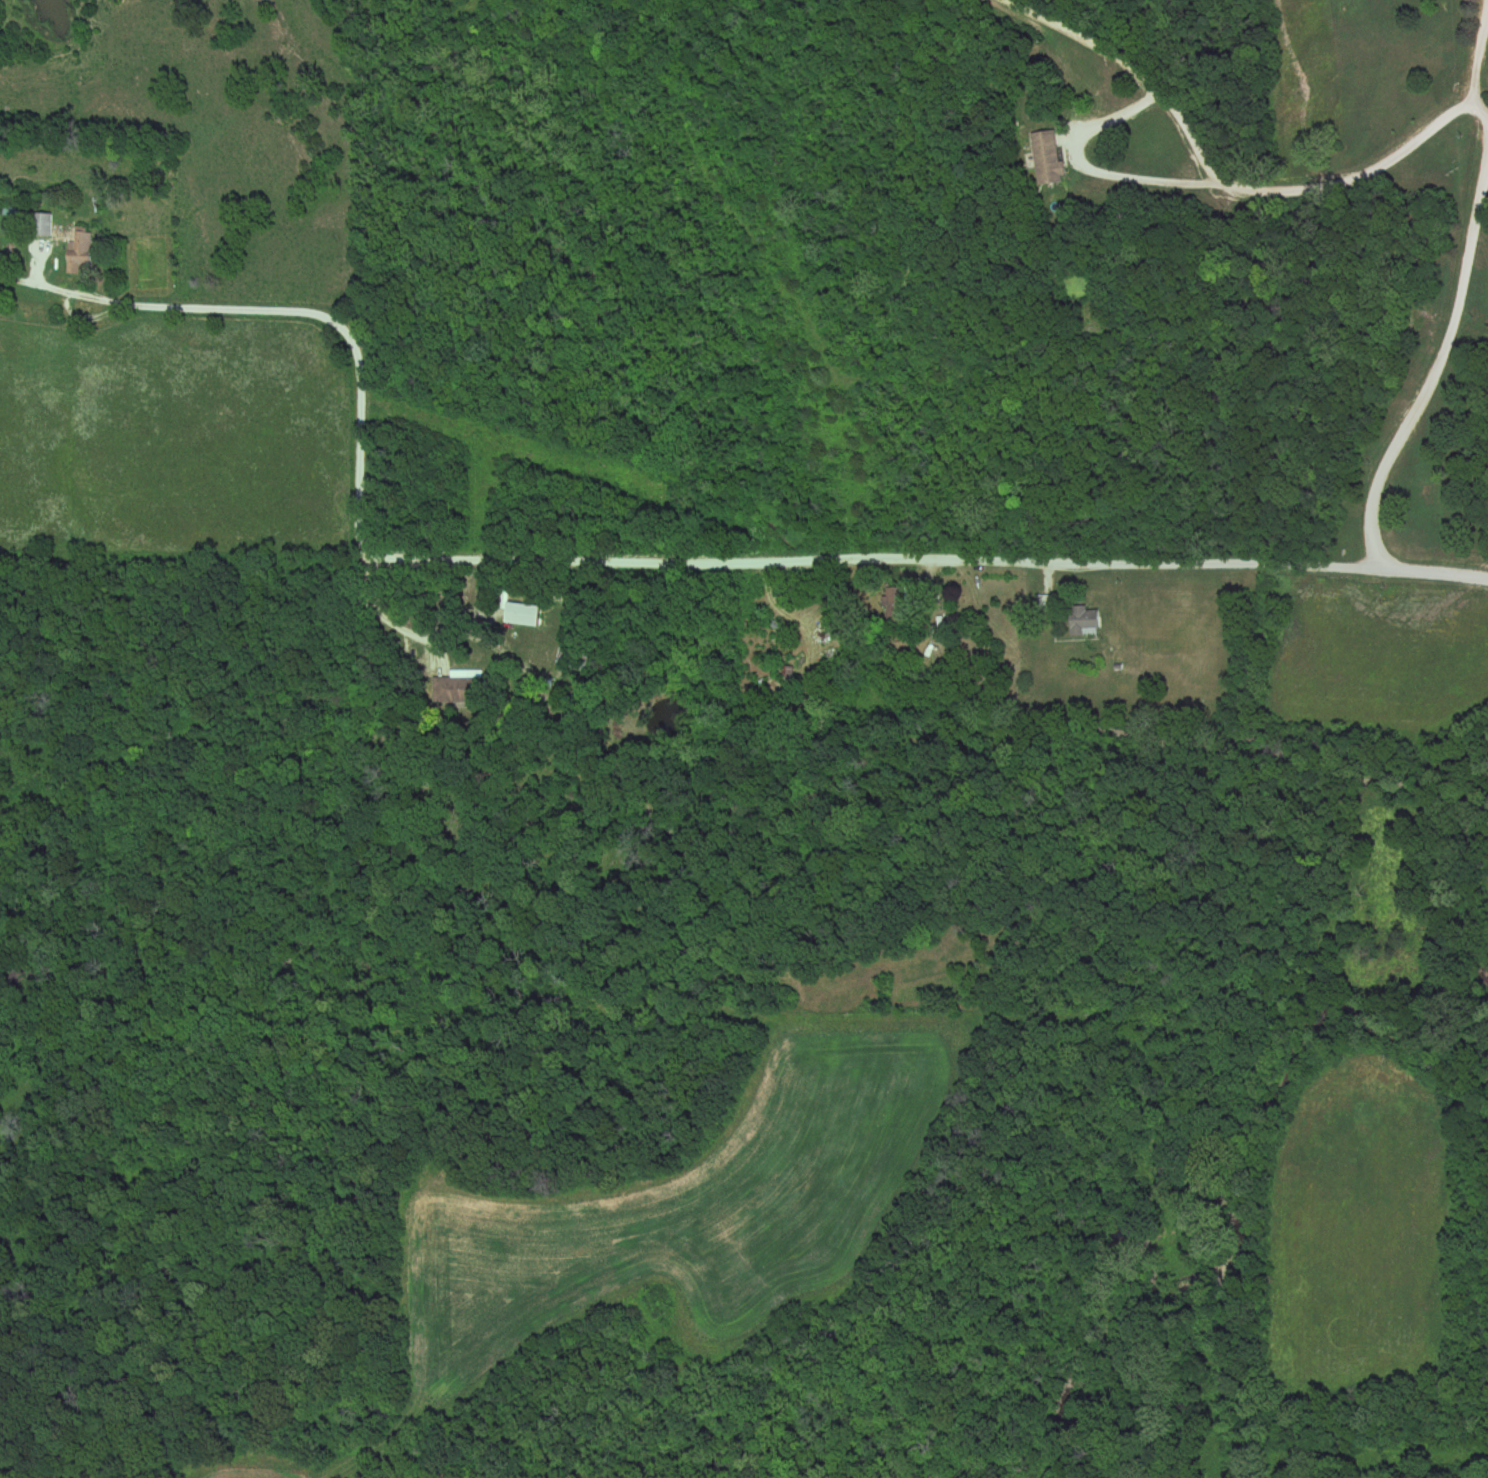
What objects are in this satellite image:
road: (1475, 52)
road: (1094, 157)
building: (1046, 158)
road: (1231, 183)
building: (44, 226)
building: (80, 255)
road: (107, 318)
road: (346, 335)
road: (1429, 371)
road: (929, 563)
building: (897, 605)
building: (1045, 605)
road: (373, 610)
building: (523, 615)
building: (1085, 622)
building: (571, 657)
building: (453, 688)

